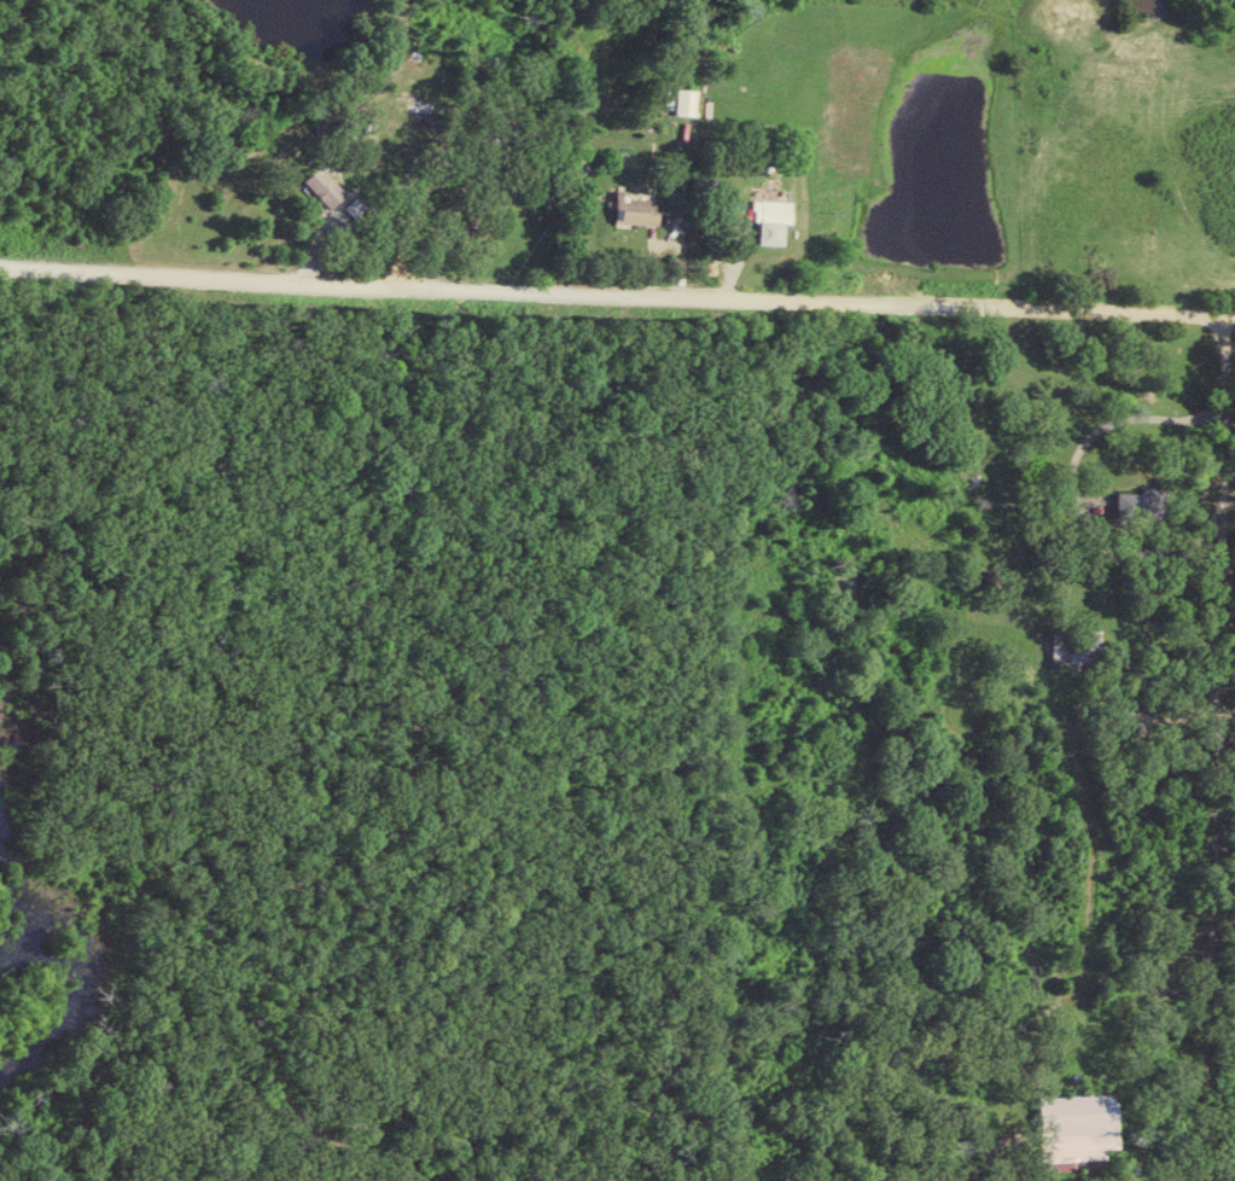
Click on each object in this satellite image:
building: (689, 101)
building: (326, 187)
building: (637, 209)
building: (774, 220)
road: (617, 296)
building: (1143, 501)
road: (295, 558)
building: (1052, 641)
building: (1071, 1130)

